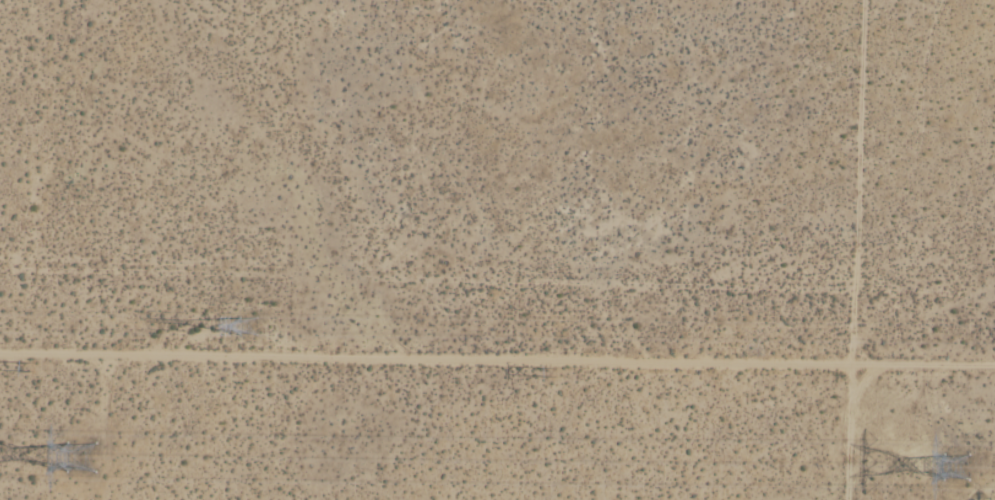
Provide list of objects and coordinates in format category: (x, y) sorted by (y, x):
power tower: (249, 328)
road: (425, 359)
road: (922, 364)
power tower: (33, 367)
power tower: (550, 373)
power tower: (84, 458)
power tower: (975, 468)

